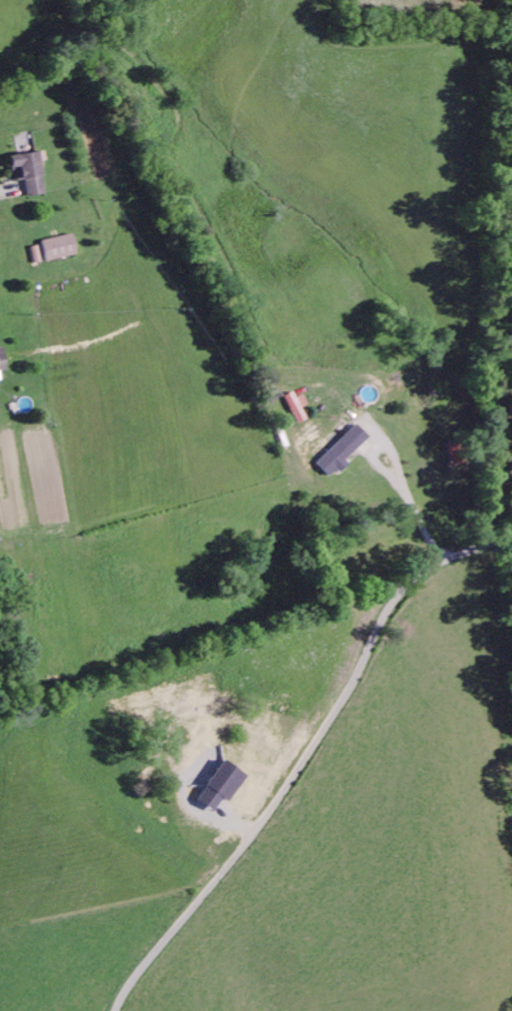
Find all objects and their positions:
building: (29, 175)
building: (60, 250)
building: (37, 257)
building: (3, 361)
building: (298, 408)
building: (344, 451)
road: (303, 759)
building: (223, 781)

